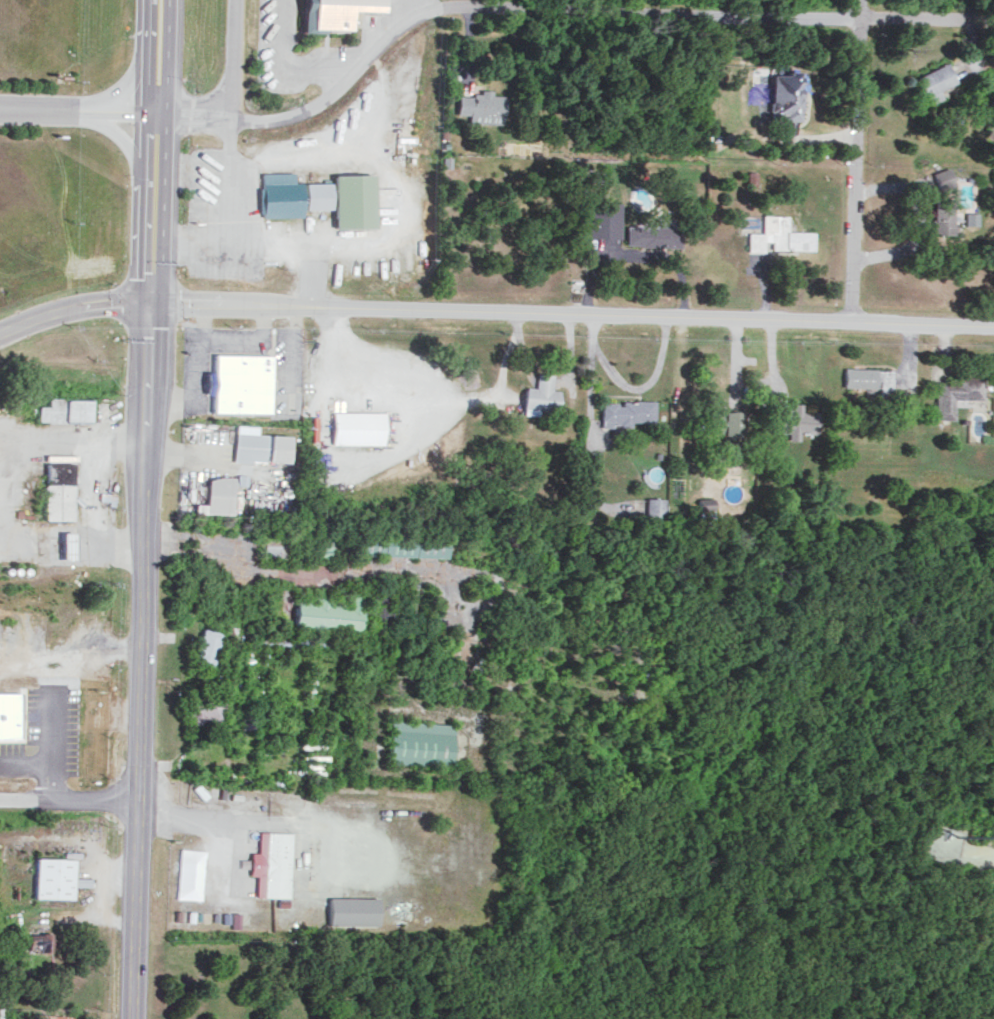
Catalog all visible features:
road: (553, 11)
building: (334, 12)
road: (145, 58)
road: (167, 58)
road: (289, 60)
road: (233, 61)
building: (934, 81)
building: (785, 93)
building: (481, 106)
road: (77, 112)
road: (856, 161)
building: (752, 176)
building: (942, 176)
building: (319, 196)
building: (942, 215)
building: (969, 217)
building: (604, 218)
building: (654, 233)
building: (778, 235)
traffic signals: (149, 308)
road: (72, 312)
road: (571, 314)
road: (201, 322)
road: (266, 323)
road: (231, 336)
road: (296, 348)
road: (335, 352)
road: (193, 364)
building: (866, 376)
building: (240, 383)
building: (954, 393)
building: (539, 394)
road: (170, 403)
building: (63, 409)
building: (627, 411)
building: (794, 420)
building: (357, 426)
building: (257, 444)
building: (58, 490)
building: (217, 495)
building: (655, 508)
building: (705, 509)
building: (398, 544)
building: (65, 545)
road: (141, 566)
building: (329, 613)
building: (206, 648)
building: (203, 707)
building: (7, 714)
building: (248, 721)
building: (419, 742)
road: (49, 743)
road: (24, 762)
road: (66, 799)
road: (218, 819)
building: (272, 863)
building: (52, 877)
building: (353, 910)
building: (236, 919)
building: (40, 940)
building: (54, 1016)

